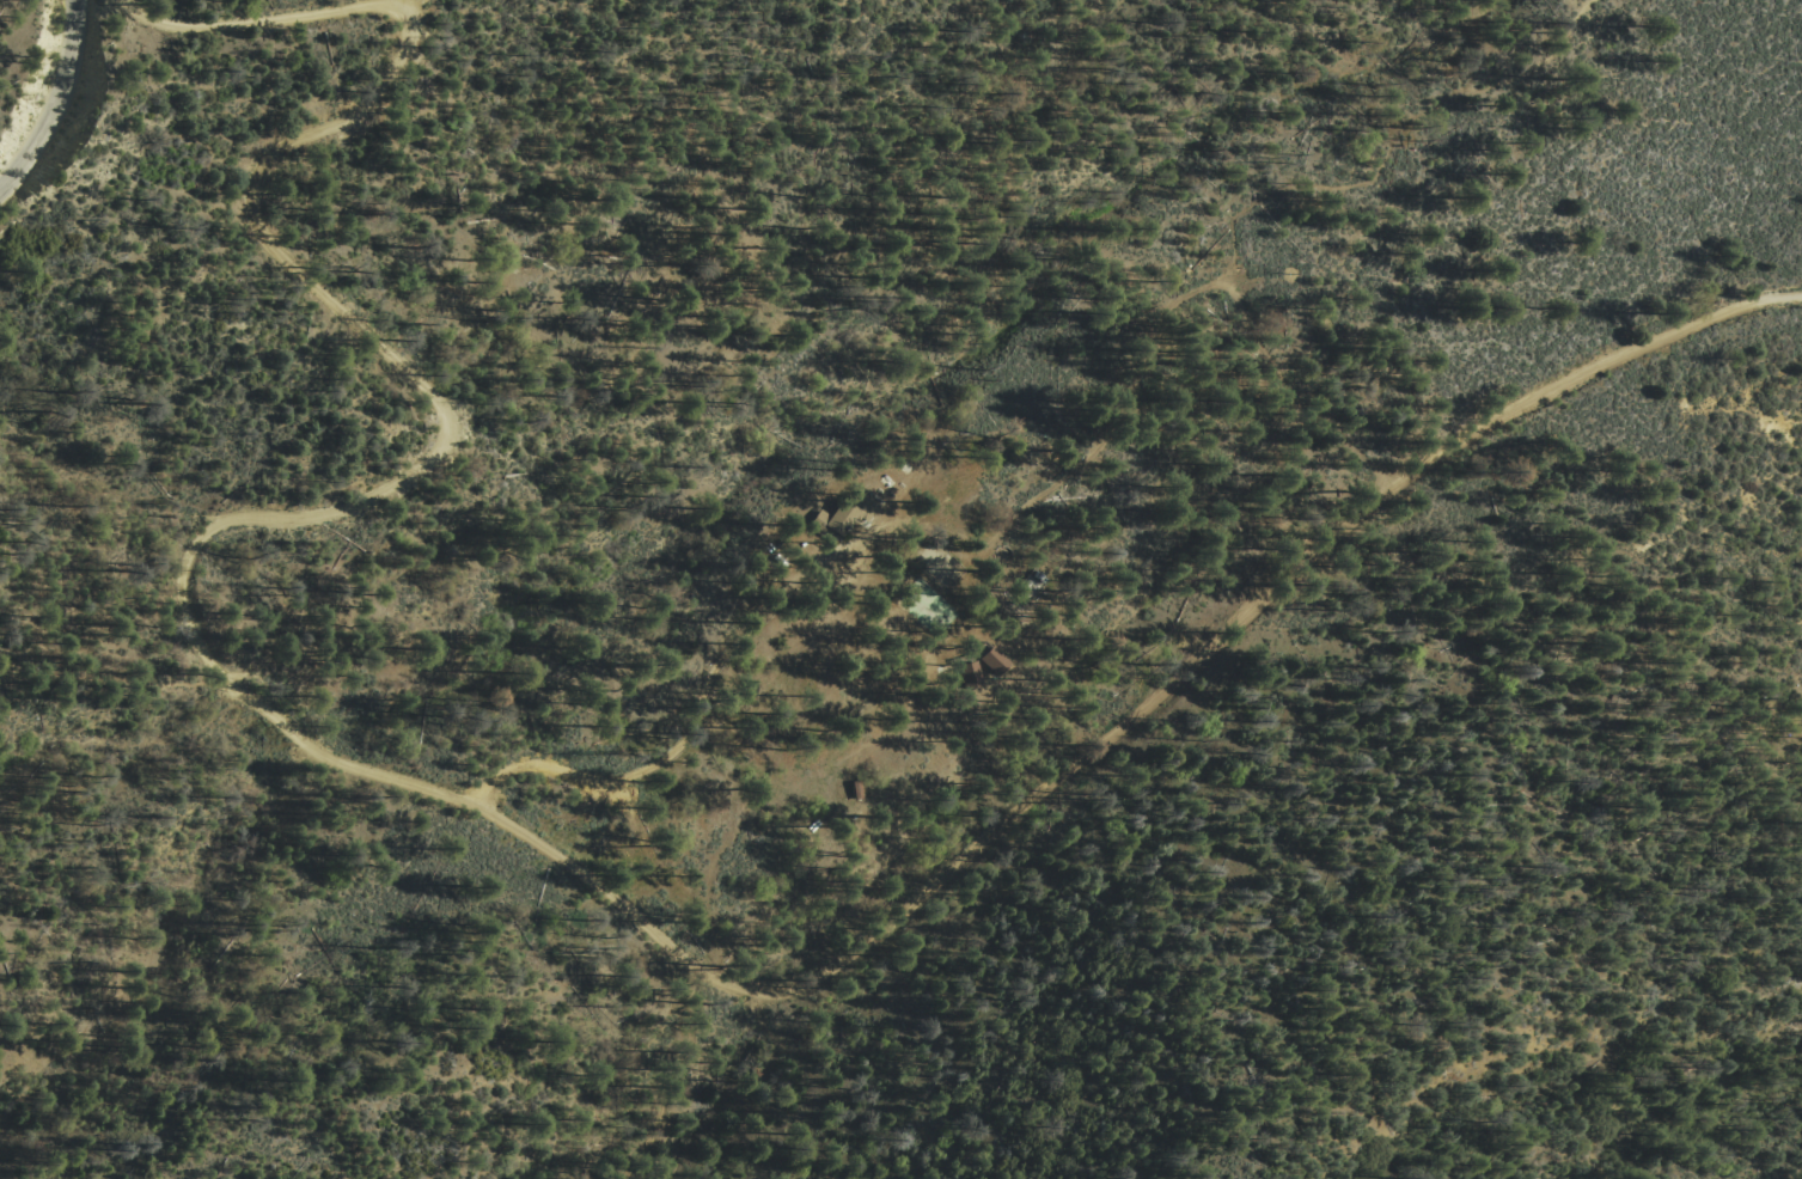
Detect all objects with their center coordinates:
road: (75, 6)
road: (53, 106)
road: (1731, 311)
building: (845, 514)
building: (990, 658)
building: (967, 672)
road: (665, 755)
road: (423, 787)

